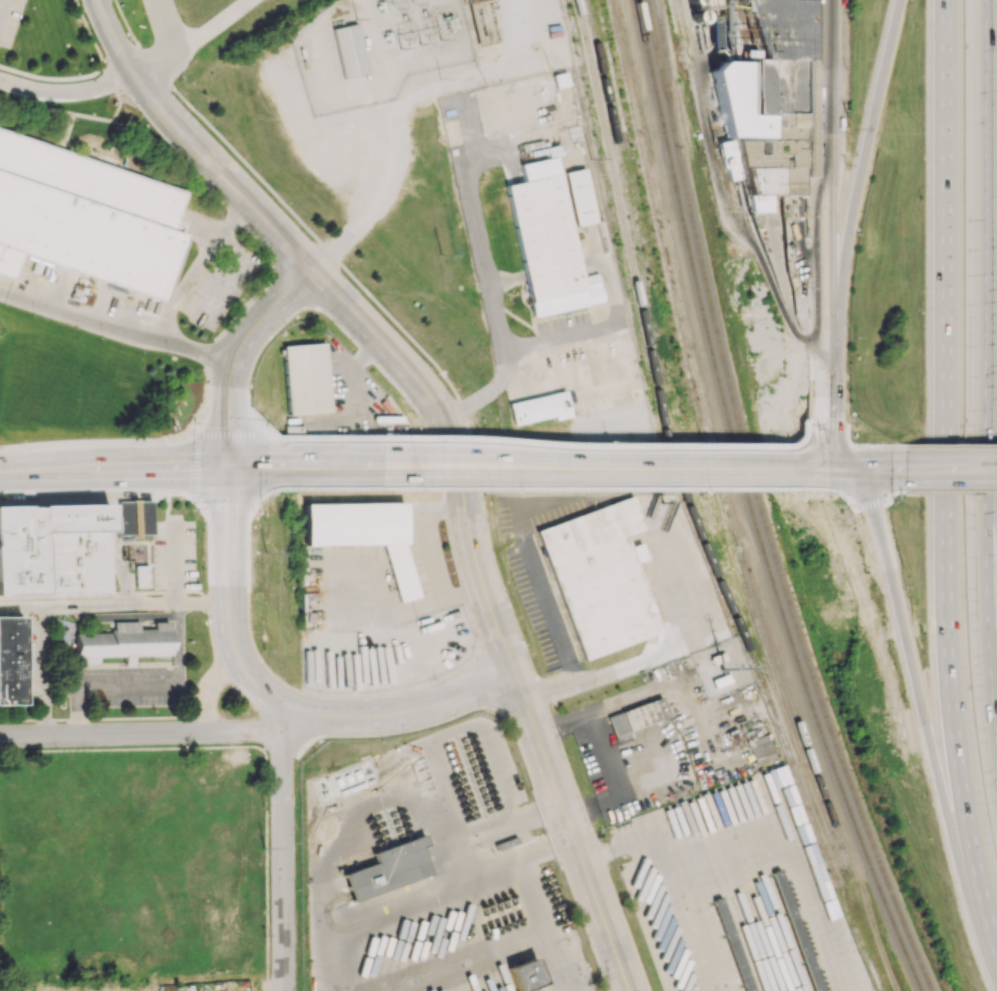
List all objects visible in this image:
building: (470, 0)
road: (1, 4)
railway: (679, 20)
road: (210, 25)
road: (89, 32)
railway: (578, 43)
power substation: (379, 48)
building: (350, 50)
railway: (668, 71)
road: (113, 79)
road: (110, 80)
building: (774, 99)
road: (191, 145)
road: (830, 151)
road: (864, 151)
building: (581, 196)
road: (989, 208)
building: (86, 217)
railway: (636, 231)
railway: (646, 231)
building: (548, 241)
road: (479, 242)
road: (197, 266)
road: (761, 268)
road: (5, 291)
road: (271, 309)
road: (123, 324)
road: (226, 326)
road: (522, 359)
building: (306, 378)
road: (833, 386)
building: (540, 408)
road: (229, 413)
railway: (711, 427)
railway: (703, 429)
road: (228, 439)
road: (826, 439)
road: (802, 442)
road: (850, 443)
road: (867, 444)
road: (940, 445)
road: (263, 449)
road: (536, 450)
road: (993, 461)
road: (947, 469)
road: (527, 470)
road: (810, 470)
road: (864, 470)
traffic signals: (869, 470)
road: (247, 471)
road: (851, 471)
traffic signals: (229, 472)
road: (114, 474)
road: (946, 478)
road: (947, 492)
road: (875, 495)
railway: (763, 503)
railway: (751, 504)
railway: (690, 506)
building: (123, 518)
building: (141, 518)
building: (365, 533)
building: (54, 549)
road: (533, 563)
building: (141, 576)
building: (599, 577)
road: (988, 582)
road: (115, 605)
road: (230, 607)
road: (493, 614)
road: (126, 616)
building: (123, 642)
road: (645, 653)
building: (10, 659)
road: (44, 670)
road: (144, 684)
road: (210, 689)
road: (400, 712)
building: (635, 718)
road: (922, 720)
road: (140, 733)
building: (761, 749)
building: (766, 780)
road: (511, 817)
road: (543, 844)
road: (464, 855)
road: (282, 857)
road: (497, 862)
building: (389, 868)
road: (540, 923)
building: (525, 975)

